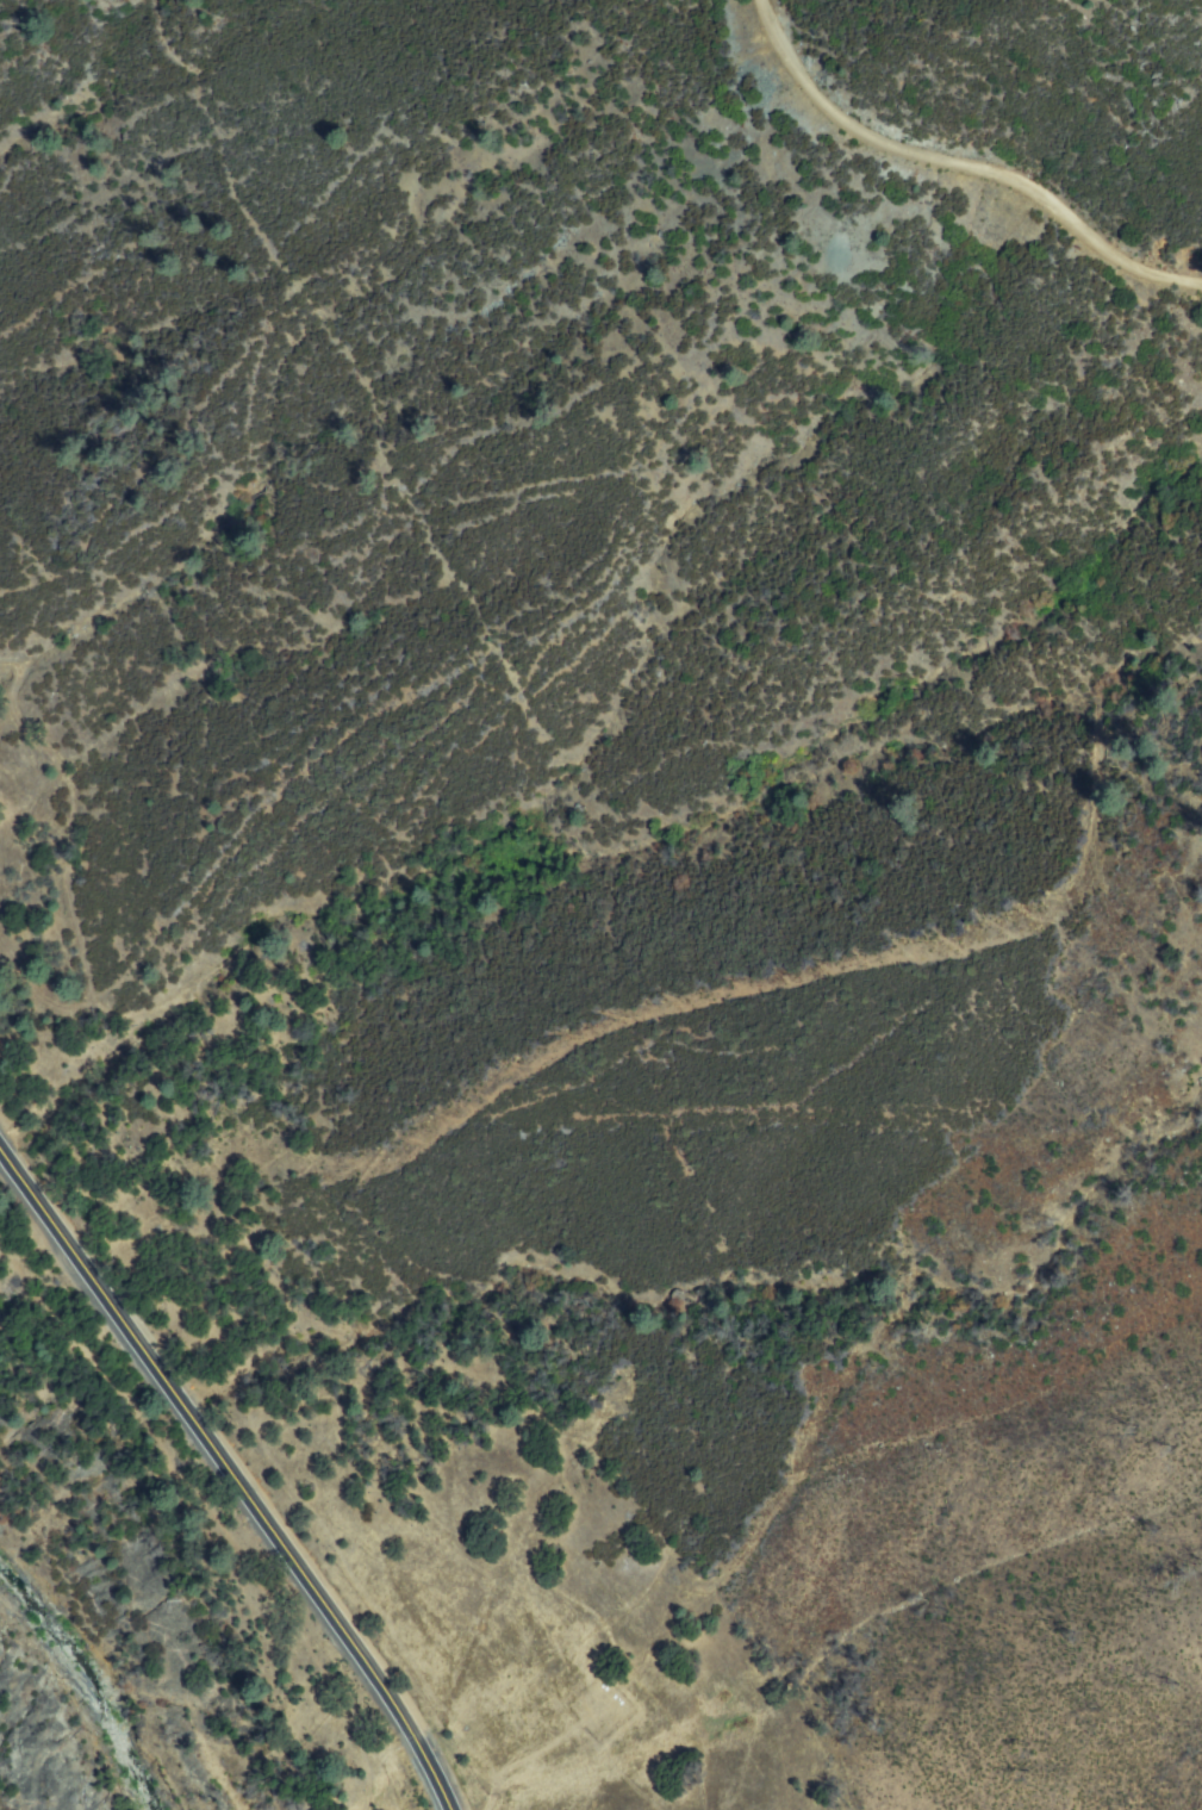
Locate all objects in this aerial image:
road: (953, 169)
road: (231, 1474)

